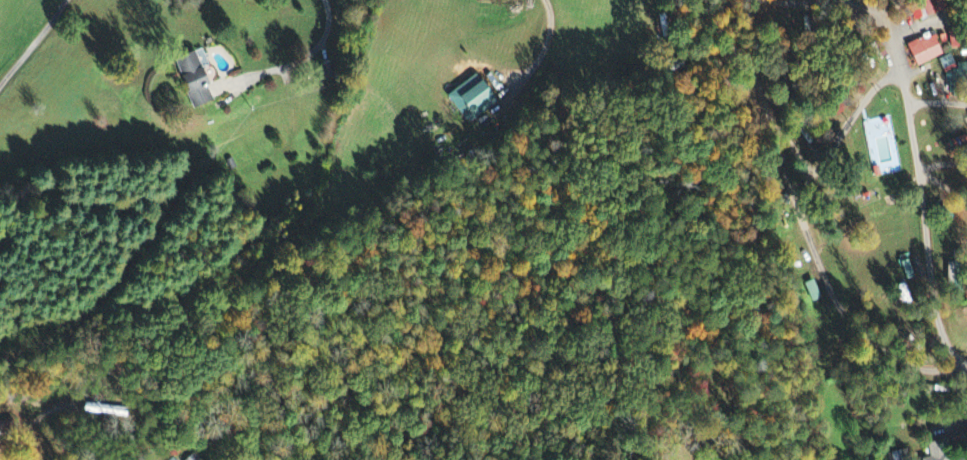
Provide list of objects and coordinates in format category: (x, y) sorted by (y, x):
building: (781, 0)
building: (921, 8)
road: (33, 43)
building: (923, 51)
building: (946, 64)
building: (188, 80)
building: (468, 100)
road: (921, 186)
building: (810, 292)
road: (30, 426)
building: (933, 451)
building: (192, 457)
building: (172, 459)

